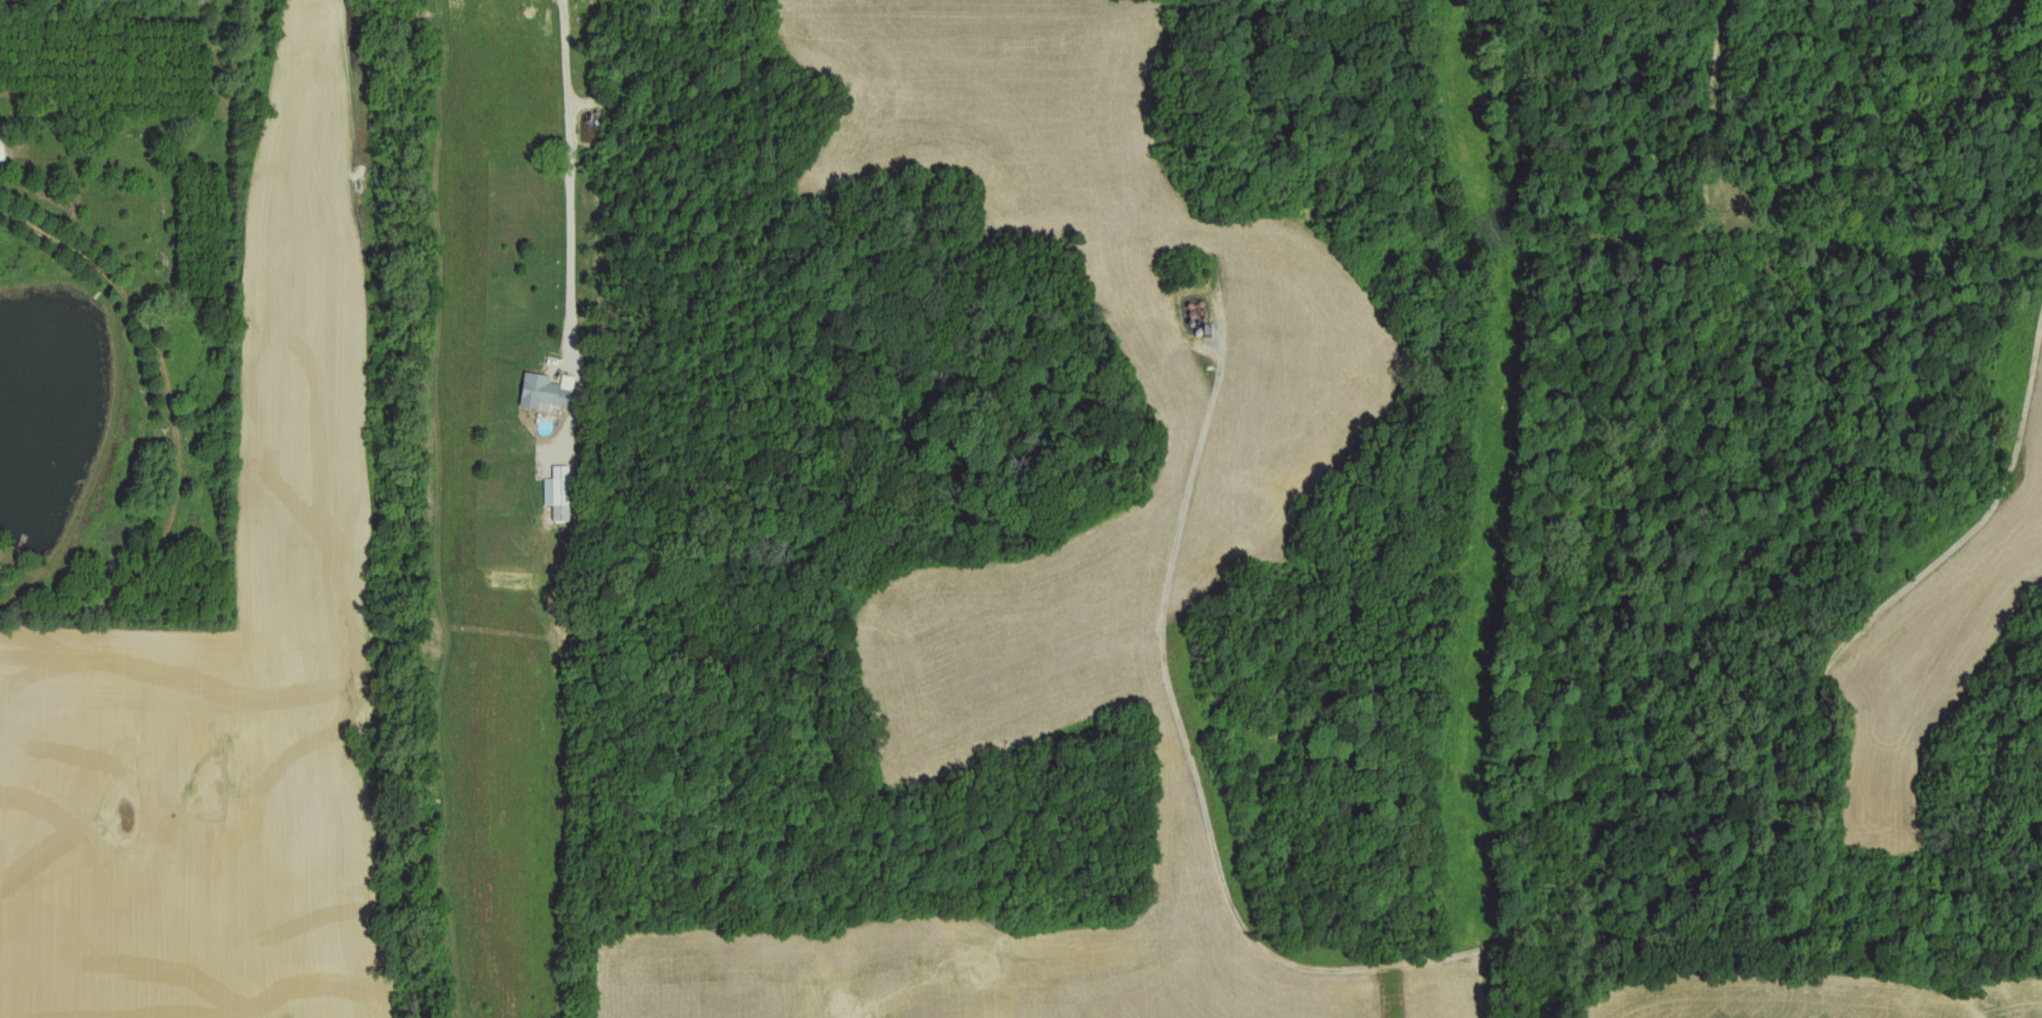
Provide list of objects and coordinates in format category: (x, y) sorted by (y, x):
road: (571, 175)
building: (559, 498)
road: (1565, 945)

